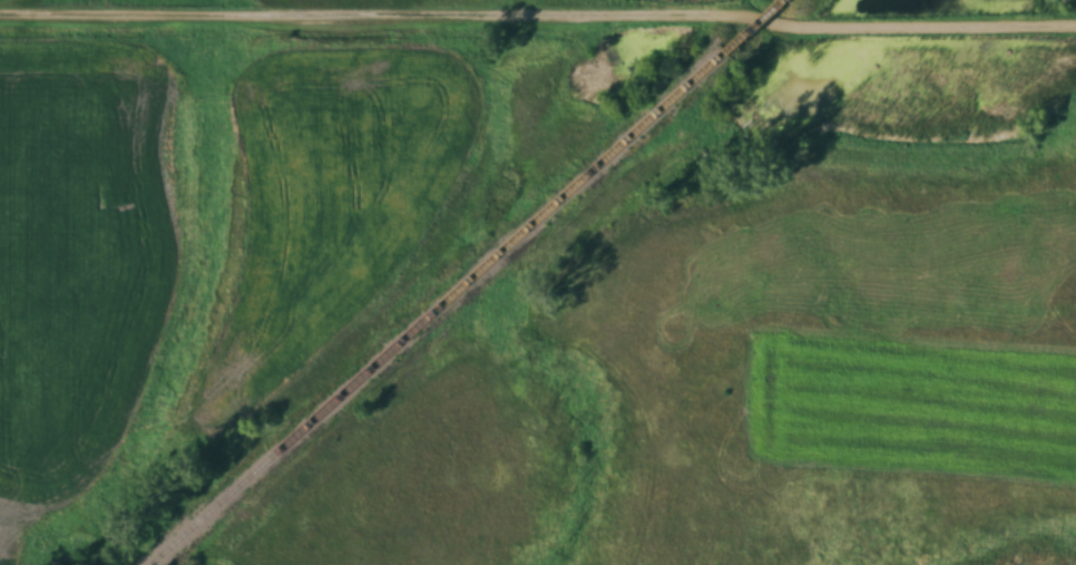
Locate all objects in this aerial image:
road: (538, 10)
railway: (761, 25)
railway: (442, 306)

